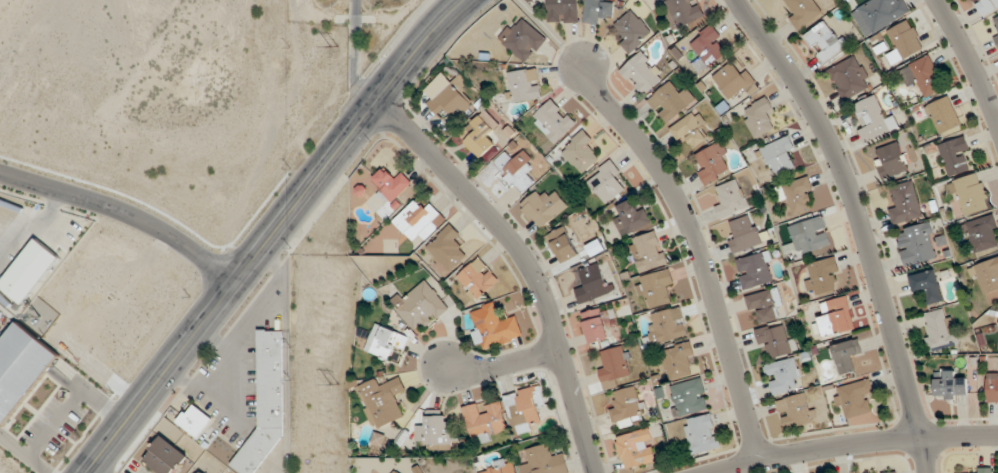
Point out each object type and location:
building: (986, 6)
building: (563, 11)
building: (597, 11)
building: (683, 11)
building: (803, 11)
building: (879, 14)
building: (996, 19)
building: (632, 31)
building: (996, 36)
building: (522, 39)
building: (904, 41)
building: (826, 42)
building: (708, 45)
road: (971, 63)
building: (642, 73)
building: (922, 75)
building: (850, 78)
building: (736, 80)
building: (523, 85)
building: (448, 96)
building: (668, 103)
building: (944, 114)
building: (759, 117)
building: (874, 120)
building: (553, 121)
building: (690, 128)
building: (481, 135)
building: (580, 152)
building: (779, 155)
building: (954, 155)
building: (890, 160)
building: (713, 164)
building: (515, 169)
building: (606, 182)
building: (390, 184)
building: (796, 195)
building: (970, 195)
building: (731, 199)
building: (905, 203)
building: (545, 209)
road: (124, 212)
building: (631, 218)
building: (418, 219)
road: (858, 224)
building: (983, 233)
road: (272, 234)
building: (744, 234)
building: (810, 235)
building: (57, 237)
building: (917, 244)
building: (563, 245)
building: (448, 248)
road: (695, 248)
building: (647, 251)
road: (524, 264)
building: (756, 270)
building: (29, 271)
building: (986, 276)
building: (824, 277)
building: (477, 279)
building: (592, 283)
building: (928, 286)
building: (655, 289)
building: (765, 304)
building: (420, 306)
building: (836, 317)
building: (596, 325)
building: (668, 325)
building: (494, 327)
building: (940, 330)
building: (775, 340)
building: (386, 342)
building: (847, 356)
road: (503, 359)
building: (679, 359)
building: (614, 365)
building: (21, 369)
building: (784, 376)
building: (950, 386)
building: (992, 388)
road: (89, 394)
building: (689, 397)
building: (382, 401)
building: (857, 402)
building: (525, 408)
building: (626, 408)
building: (795, 411)
building: (195, 420)
building: (485, 420)
road: (54, 422)
building: (440, 431)
building: (702, 434)
road: (853, 445)
building: (636, 449)
road: (23, 453)
building: (165, 456)
building: (544, 460)
building: (500, 468)
building: (397, 471)
building: (203, 472)
building: (893, 472)
building: (974, 472)

